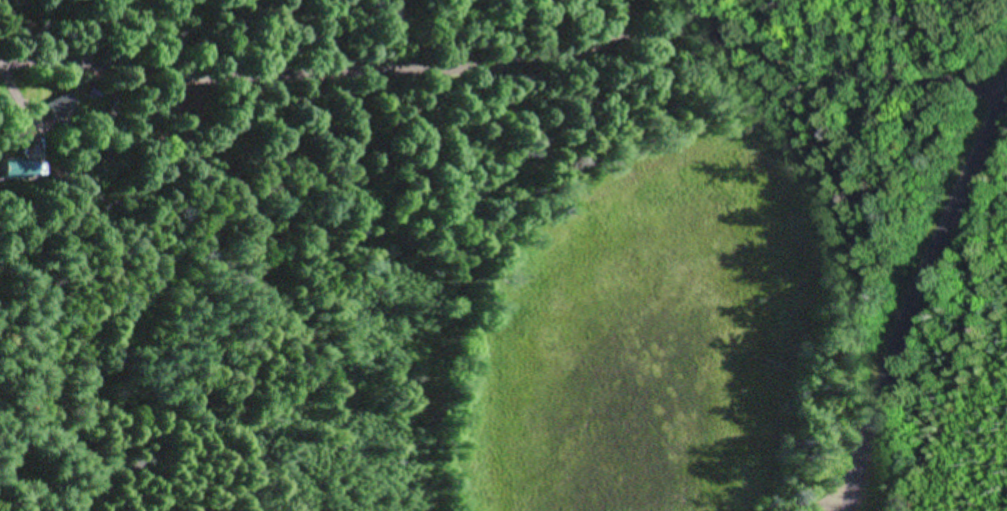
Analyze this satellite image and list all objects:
road: (504, 65)
building: (62, 105)
building: (23, 167)
building: (6, 172)
road: (906, 291)
road: (824, 510)
road: (824, 510)

